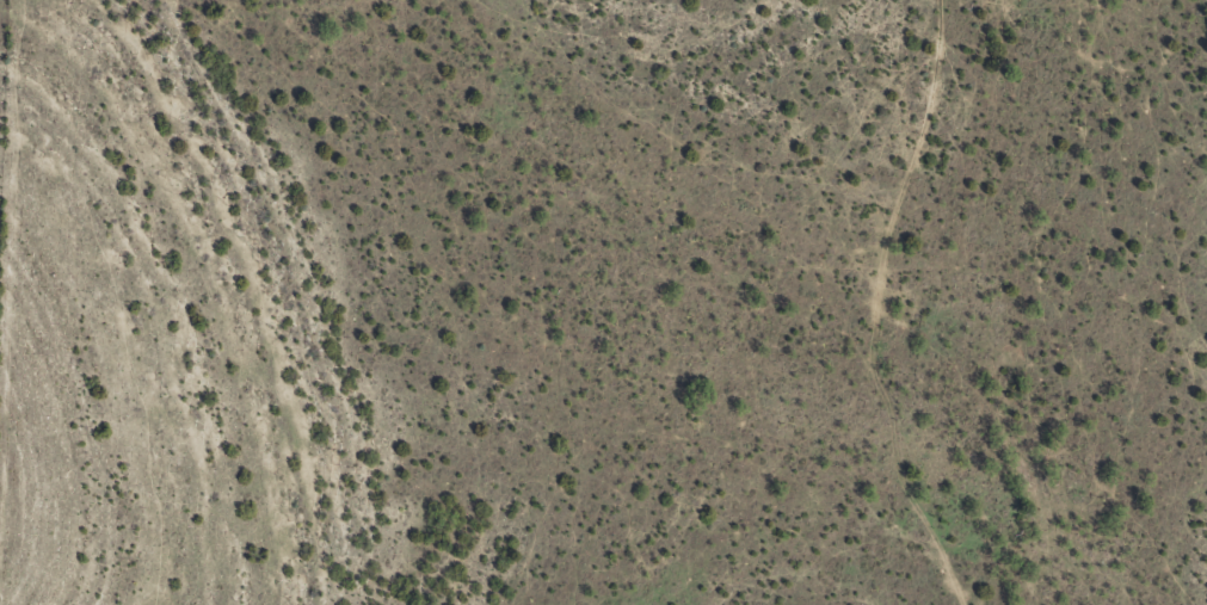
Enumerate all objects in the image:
road: (909, 303)

